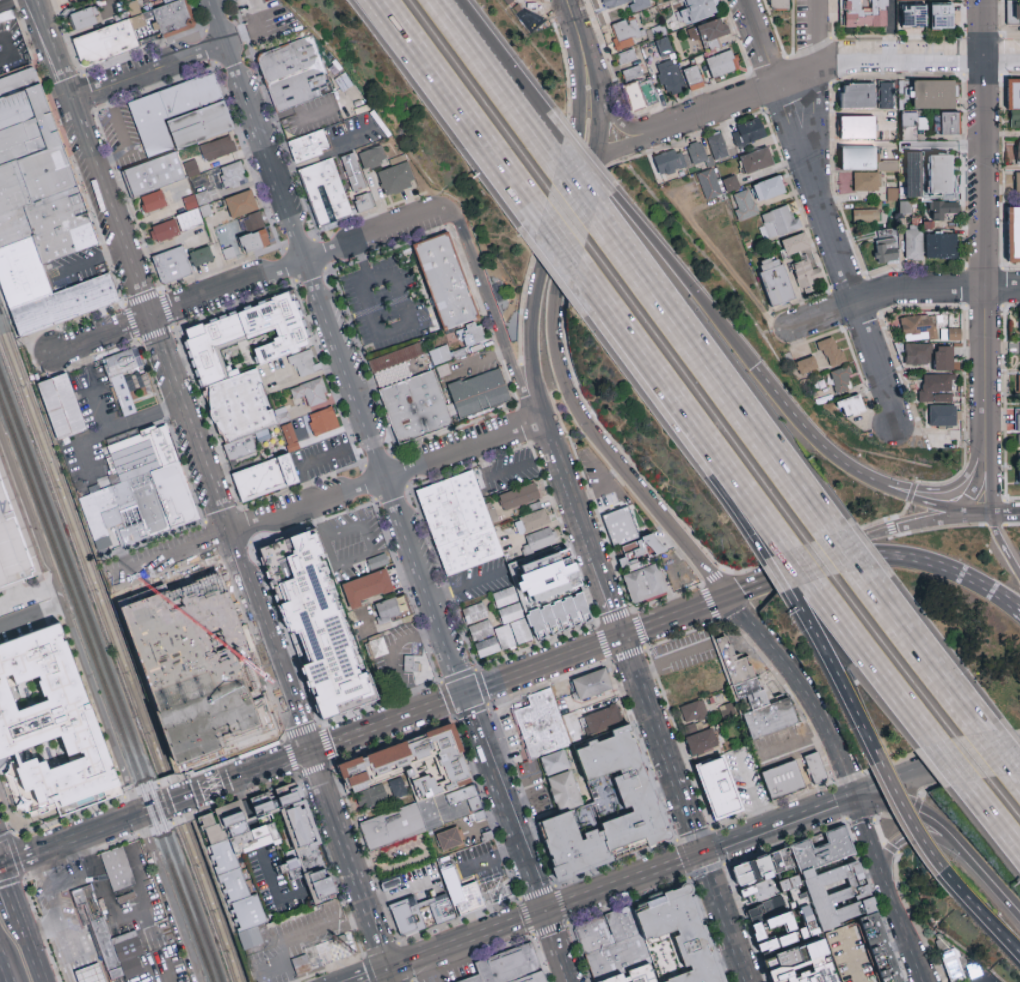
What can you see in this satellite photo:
building: (1, 0)
parking lot: (1, 0)
building: (70, 0)
road: (8, 3)
building: (778, 4)
building: (637, 8)
building: (697, 10)
building: (863, 13)
building: (1013, 13)
building: (530, 14)
road: (543, 15)
building: (177, 16)
building: (912, 16)
road: (444, 17)
building: (940, 17)
building: (84, 19)
road: (572, 19)
road: (217, 20)
road: (92, 28)
road: (257, 30)
building: (625, 32)
building: (712, 32)
building: (109, 42)
building: (663, 46)
road: (7, 48)
road: (54, 49)
building: (626, 57)
road: (836, 59)
building: (721, 64)
road: (149, 69)
building: (631, 74)
building: (300, 76)
building: (670, 77)
building: (692, 78)
road: (813, 91)
building: (192, 94)
building: (640, 94)
building: (856, 95)
building: (885, 95)
building: (933, 95)
road: (506, 96)
road: (521, 103)
building: (1013, 103)
road: (297, 108)
road: (460, 110)
road: (619, 117)
building: (912, 121)
building: (153, 123)
building: (200, 124)
building: (948, 124)
building: (856, 127)
building: (747, 133)
road: (120, 136)
road: (633, 139)
building: (717, 145)
building: (217, 149)
building: (311, 152)
building: (698, 153)
building: (1016, 153)
road: (329, 155)
building: (372, 158)
building: (862, 159)
building: (755, 160)
building: (669, 161)
building: (192, 168)
road: (583, 168)
building: (39, 172)
building: (157, 174)
building: (232, 175)
building: (928, 175)
building: (395, 179)
building: (865, 182)
building: (729, 183)
building: (709, 184)
building: (1017, 184)
road: (574, 186)
building: (358, 188)
road: (233, 189)
building: (767, 189)
building: (892, 193)
building: (328, 196)
building: (152, 202)
building: (241, 204)
building: (743, 205)
building: (905, 206)
building: (944, 210)
road: (819, 212)
building: (865, 216)
building: (183, 219)
road: (159, 221)
building: (253, 222)
building: (778, 222)
road: (557, 229)
road: (986, 231)
building: (1013, 235)
building: (253, 241)
building: (913, 243)
building: (794, 244)
road: (558, 245)
road: (164, 246)
building: (941, 246)
building: (886, 251)
road: (219, 252)
building: (204, 257)
road: (92, 262)
building: (176, 267)
road: (729, 270)
building: (806, 273)
building: (446, 278)
road: (678, 278)
road: (245, 281)
building: (774, 281)
road: (902, 289)
building: (47, 291)
road: (558, 308)
road: (494, 311)
road: (149, 317)
railway: (4, 320)
building: (1018, 322)
building: (918, 328)
road: (381, 333)
building: (473, 333)
building: (953, 335)
building: (440, 353)
building: (917, 354)
building: (397, 355)
building: (269, 357)
building: (821, 357)
building: (943, 358)
road: (479, 359)
building: (304, 363)
road: (647, 365)
road: (715, 373)
road: (306, 377)
building: (129, 380)
building: (841, 380)
building: (1017, 384)
building: (936, 387)
building: (479, 390)
building: (310, 392)
building: (416, 405)
building: (850, 406)
building: (63, 407)
road: (782, 411)
building: (942, 416)
building: (322, 421)
road: (105, 423)
building: (1017, 423)
building: (289, 437)
road: (80, 444)
building: (1018, 447)
building: (248, 448)
building: (138, 456)
building: (244, 460)
road: (302, 463)
road: (840, 463)
building: (1018, 465)
road: (386, 474)
road: (489, 476)
building: (269, 478)
building: (1018, 480)
road: (943, 485)
road: (987, 487)
road: (567, 489)
road: (608, 491)
road: (970, 492)
road: (327, 496)
building: (518, 496)
building: (165, 500)
road: (923, 500)
road: (754, 505)
road: (746, 508)
road: (1004, 512)
building: (114, 518)
road: (929, 519)
building: (531, 521)
building: (460, 523)
building: (621, 525)
building: (501, 531)
road: (331, 534)
building: (538, 540)
building: (14, 542)
road: (1003, 543)
building: (639, 550)
railway: (88, 551)
road: (852, 553)
road: (853, 553)
road: (817, 555)
railway: (80, 558)
building: (537, 561)
building: (376, 562)
road: (803, 566)
road: (958, 570)
road: (708, 571)
road: (784, 574)
building: (553, 580)
building: (644, 583)
road: (467, 585)
road: (745, 587)
building: (365, 588)
road: (25, 594)
building: (212, 595)
road: (609, 596)
building: (504, 597)
building: (474, 612)
building: (395, 614)
road: (676, 615)
building: (558, 616)
road: (187, 622)
building: (326, 622)
building: (500, 632)
traffic signals: (624, 635)
road: (269, 643)
building: (382, 649)
parking lot: (684, 651)
building: (232, 653)
road: (926, 654)
road: (394, 656)
road: (666, 657)
building: (155, 660)
road: (875, 663)
building: (414, 665)
building: (736, 668)
road: (837, 677)
railway: (110, 679)
building: (591, 684)
building: (687, 685)
road: (799, 689)
railway: (106, 690)
road: (466, 692)
building: (219, 699)
road: (646, 699)
building: (728, 709)
road: (96, 711)
building: (693, 712)
building: (601, 719)
building: (540, 723)
building: (50, 731)
building: (602, 732)
road: (301, 734)
building: (257, 738)
building: (205, 740)
building: (178, 742)
building: (701, 742)
road: (326, 745)
road: (793, 745)
road: (980, 749)
traffic signals: (310, 751)
road: (999, 753)
road: (0, 757)
road: (952, 762)
road: (314, 768)
building: (814, 768)
road: (1017, 776)
road: (899, 778)
building: (559, 780)
building: (781, 780)
building: (418, 785)
building: (396, 787)
building: (717, 787)
road: (750, 793)
road: (531, 794)
traffic signals: (854, 794)
building: (371, 797)
road: (172, 802)
road: (521, 803)
road: (686, 807)
building: (609, 809)
road: (994, 813)
road: (777, 822)
road: (487, 824)
road: (916, 828)
road: (949, 829)
road: (914, 835)
building: (448, 839)
building: (823, 848)
road: (262, 851)
traffic signals: (702, 851)
road: (349, 859)
road: (17, 860)
building: (288, 864)
road: (18, 865)
building: (120, 871)
road: (623, 880)
building: (391, 882)
building: (788, 883)
road: (46, 887)
road: (890, 888)
building: (758, 891)
road: (8, 893)
building: (505, 893)
railway: (217, 903)
railway: (207, 905)
building: (818, 906)
building: (427, 907)
building: (768, 908)
traffic signals: (544, 910)
road: (726, 916)
road: (459, 920)
road: (111, 921)
road: (567, 922)
road: (990, 922)
road: (40, 927)
road: (42, 930)
building: (610, 932)
building: (132, 936)
road: (465, 939)
building: (680, 939)
road: (65, 941)
road: (388, 945)
road: (557, 946)
road: (276, 947)
road: (28, 948)
building: (338, 951)
building: (620, 960)
building: (952, 963)
building: (300, 965)
building: (506, 965)
building: (804, 965)
road: (4, 969)
traffic signals: (388, 969)
road: (159, 975)
road: (369, 975)
road: (390, 975)
building: (640, 976)
building: (92, 977)
building: (532, 978)

